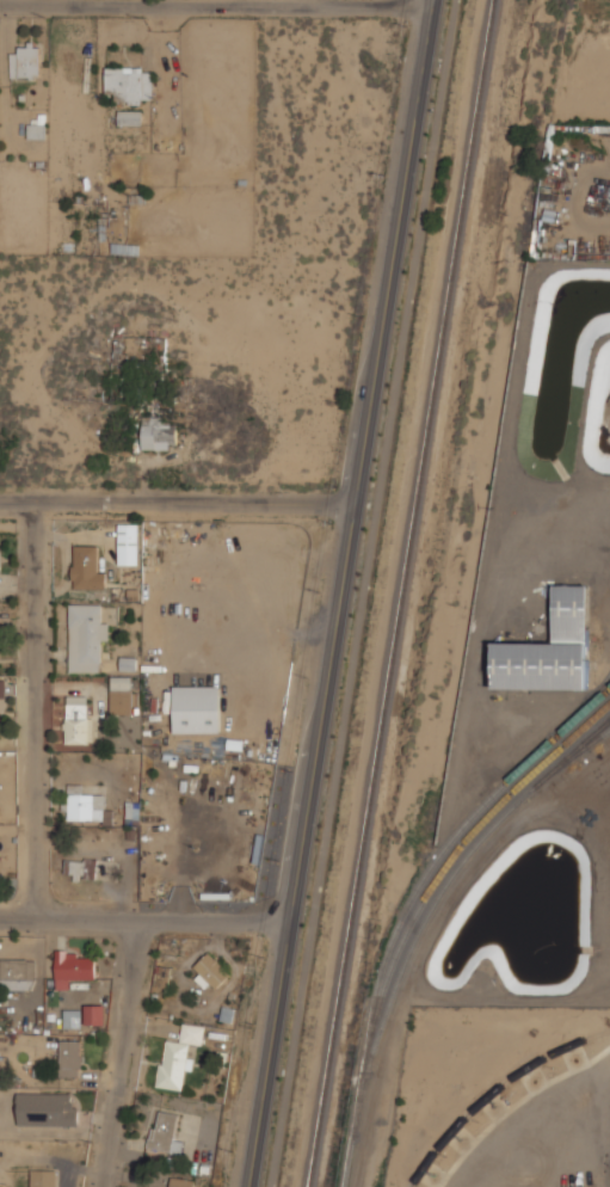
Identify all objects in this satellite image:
road: (310, 4)
road: (214, 6)
building: (26, 60)
building: (128, 81)
building: (130, 117)
building: (37, 130)
building: (158, 432)
road: (177, 500)
building: (0, 542)
building: (129, 545)
building: (87, 567)
road: (339, 592)
road: (364, 593)
railway: (400, 593)
building: (86, 635)
building: (550, 648)
building: (127, 663)
building: (1, 689)
building: (122, 700)
building: (197, 708)
road: (35, 711)
building: (79, 724)
building: (86, 802)
building: (134, 812)
building: (81, 868)
road: (143, 923)
building: (74, 966)
building: (214, 972)
building: (18, 973)
building: (164, 977)
building: (95, 1014)
building: (73, 1017)
road: (125, 1056)
building: (179, 1056)
building: (70, 1058)
railway: (495, 1088)
building: (48, 1109)
building: (165, 1133)
building: (43, 1177)
building: (181, 1182)

